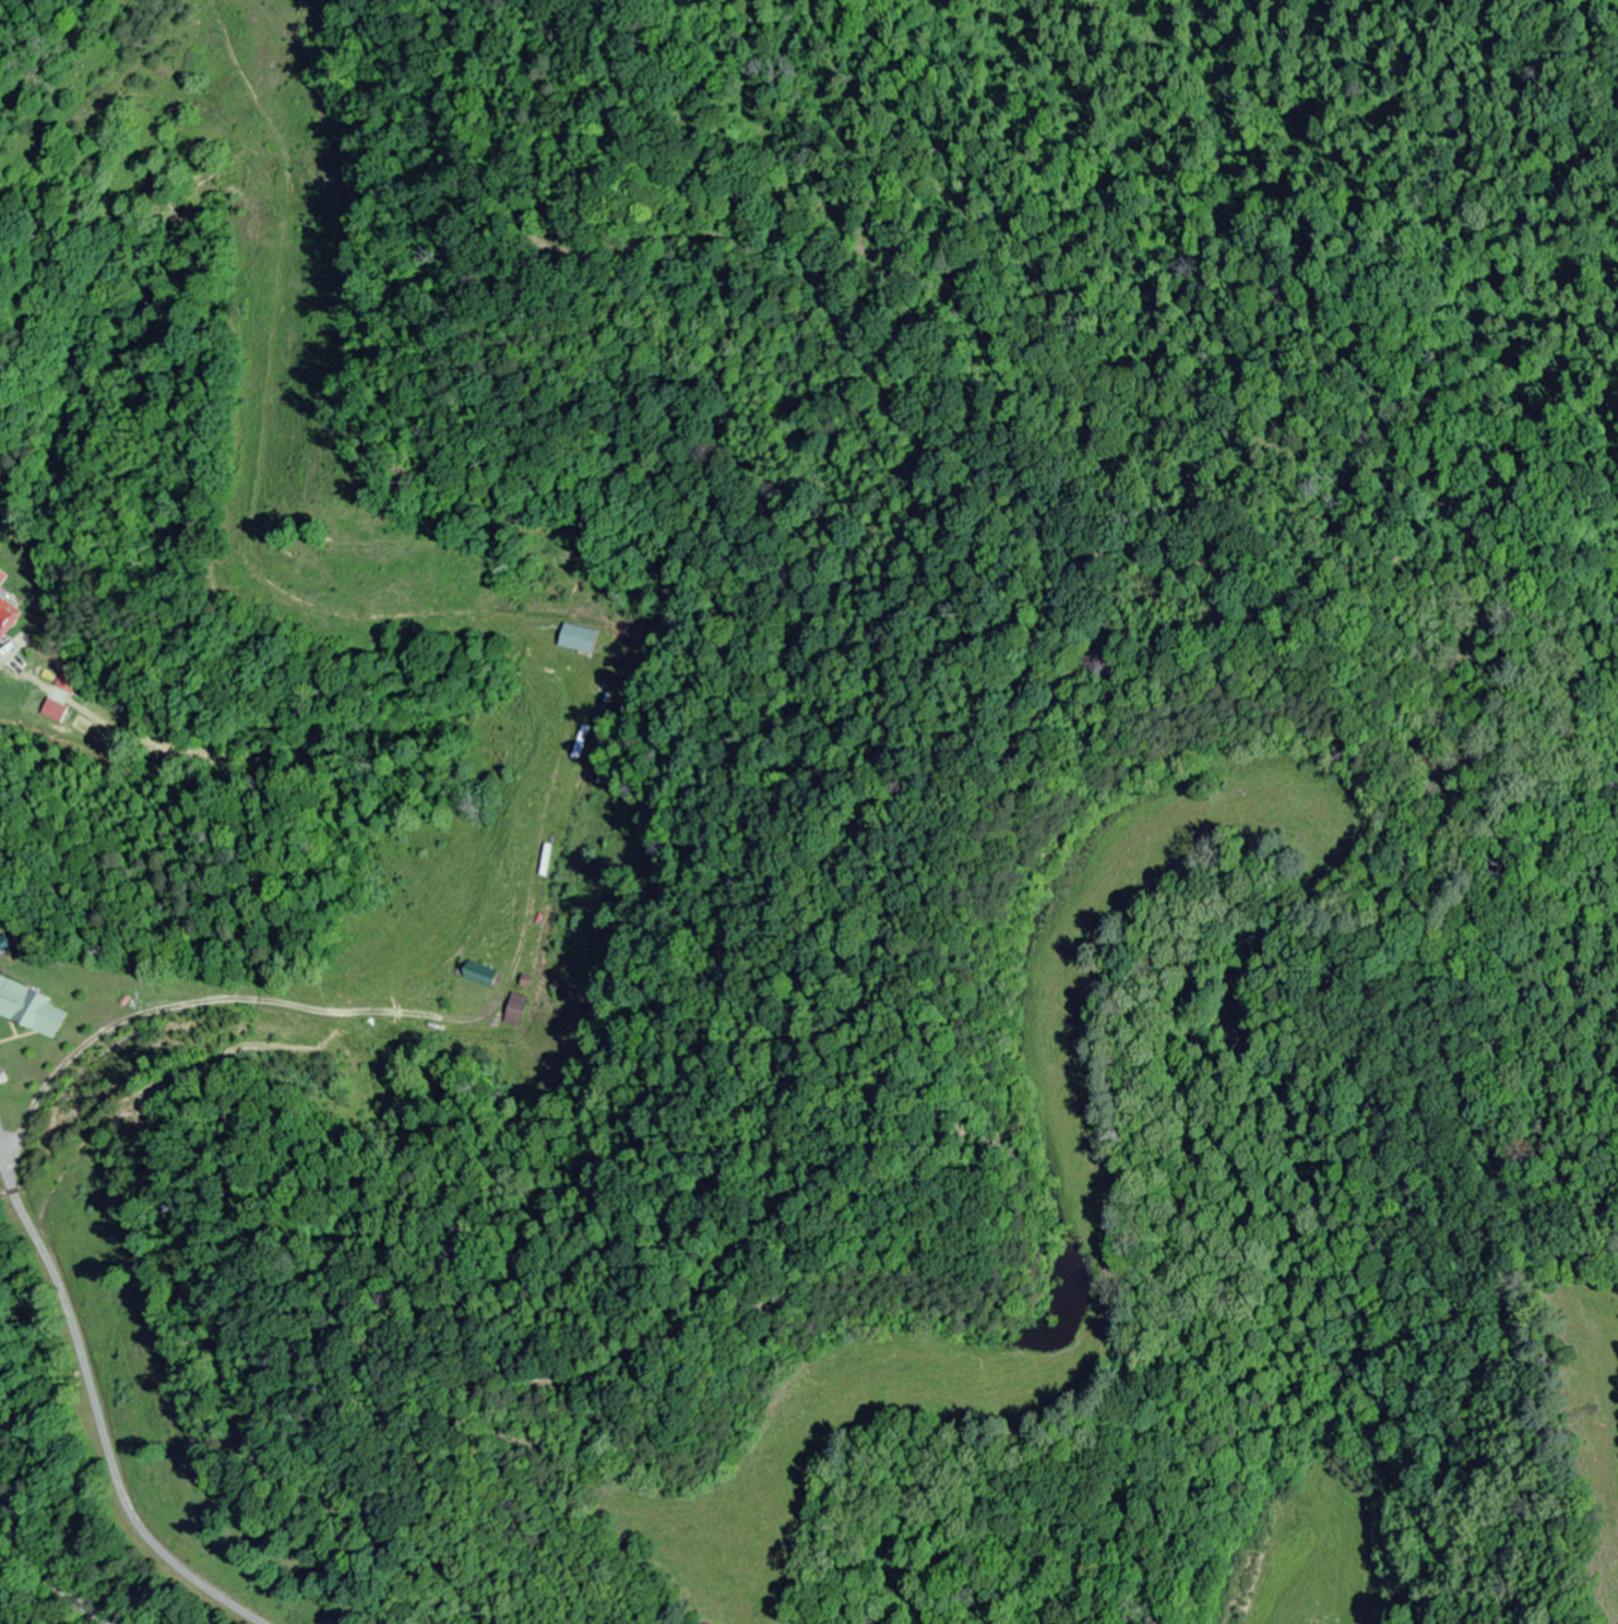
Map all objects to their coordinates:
building: (2, 578)
building: (7, 619)
building: (580, 640)
building: (52, 712)
building: (546, 860)
building: (28, 1007)
building: (515, 1010)
building: (352, 1025)
road: (47, 1573)

